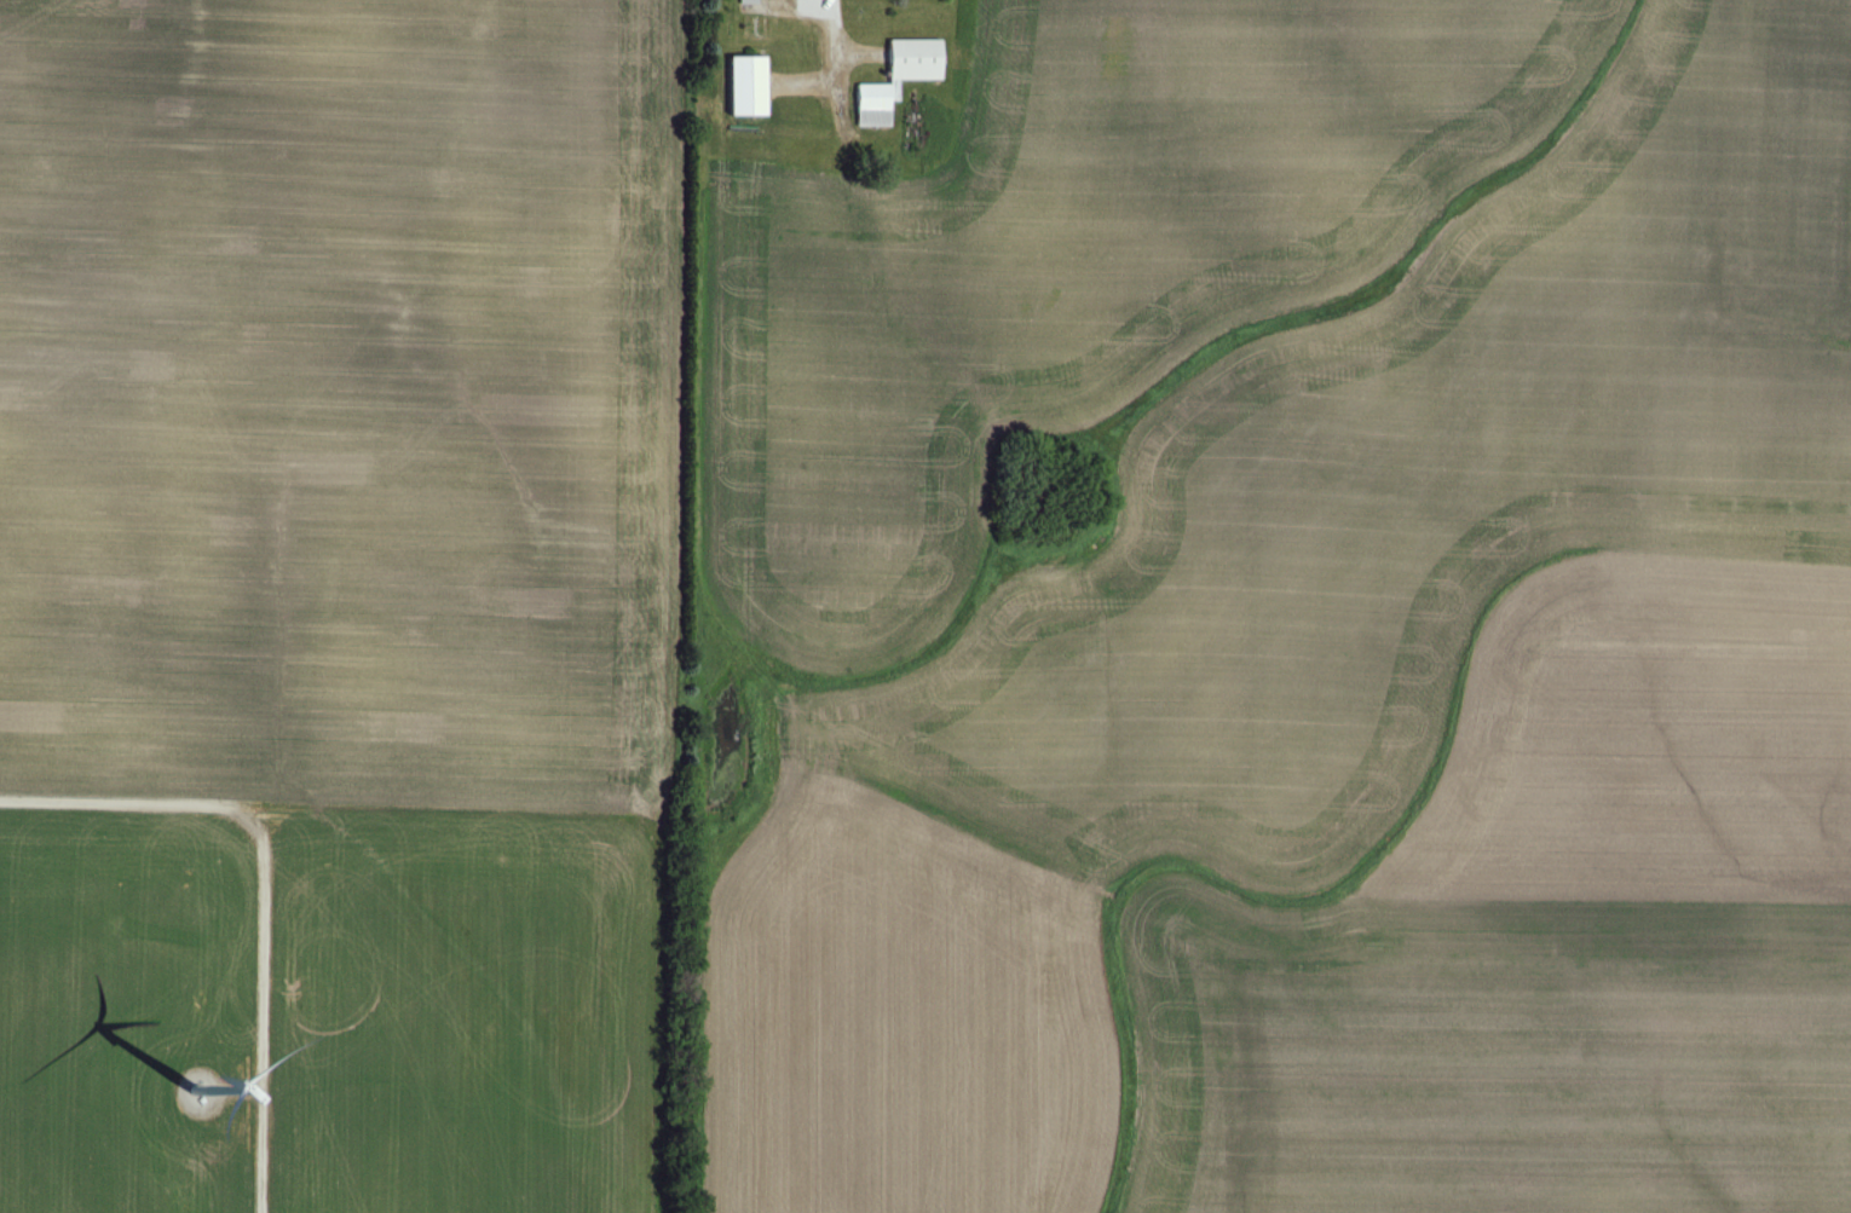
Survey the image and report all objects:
road: (834, 44)
road: (263, 876)
wind turbine: (191, 1082)

